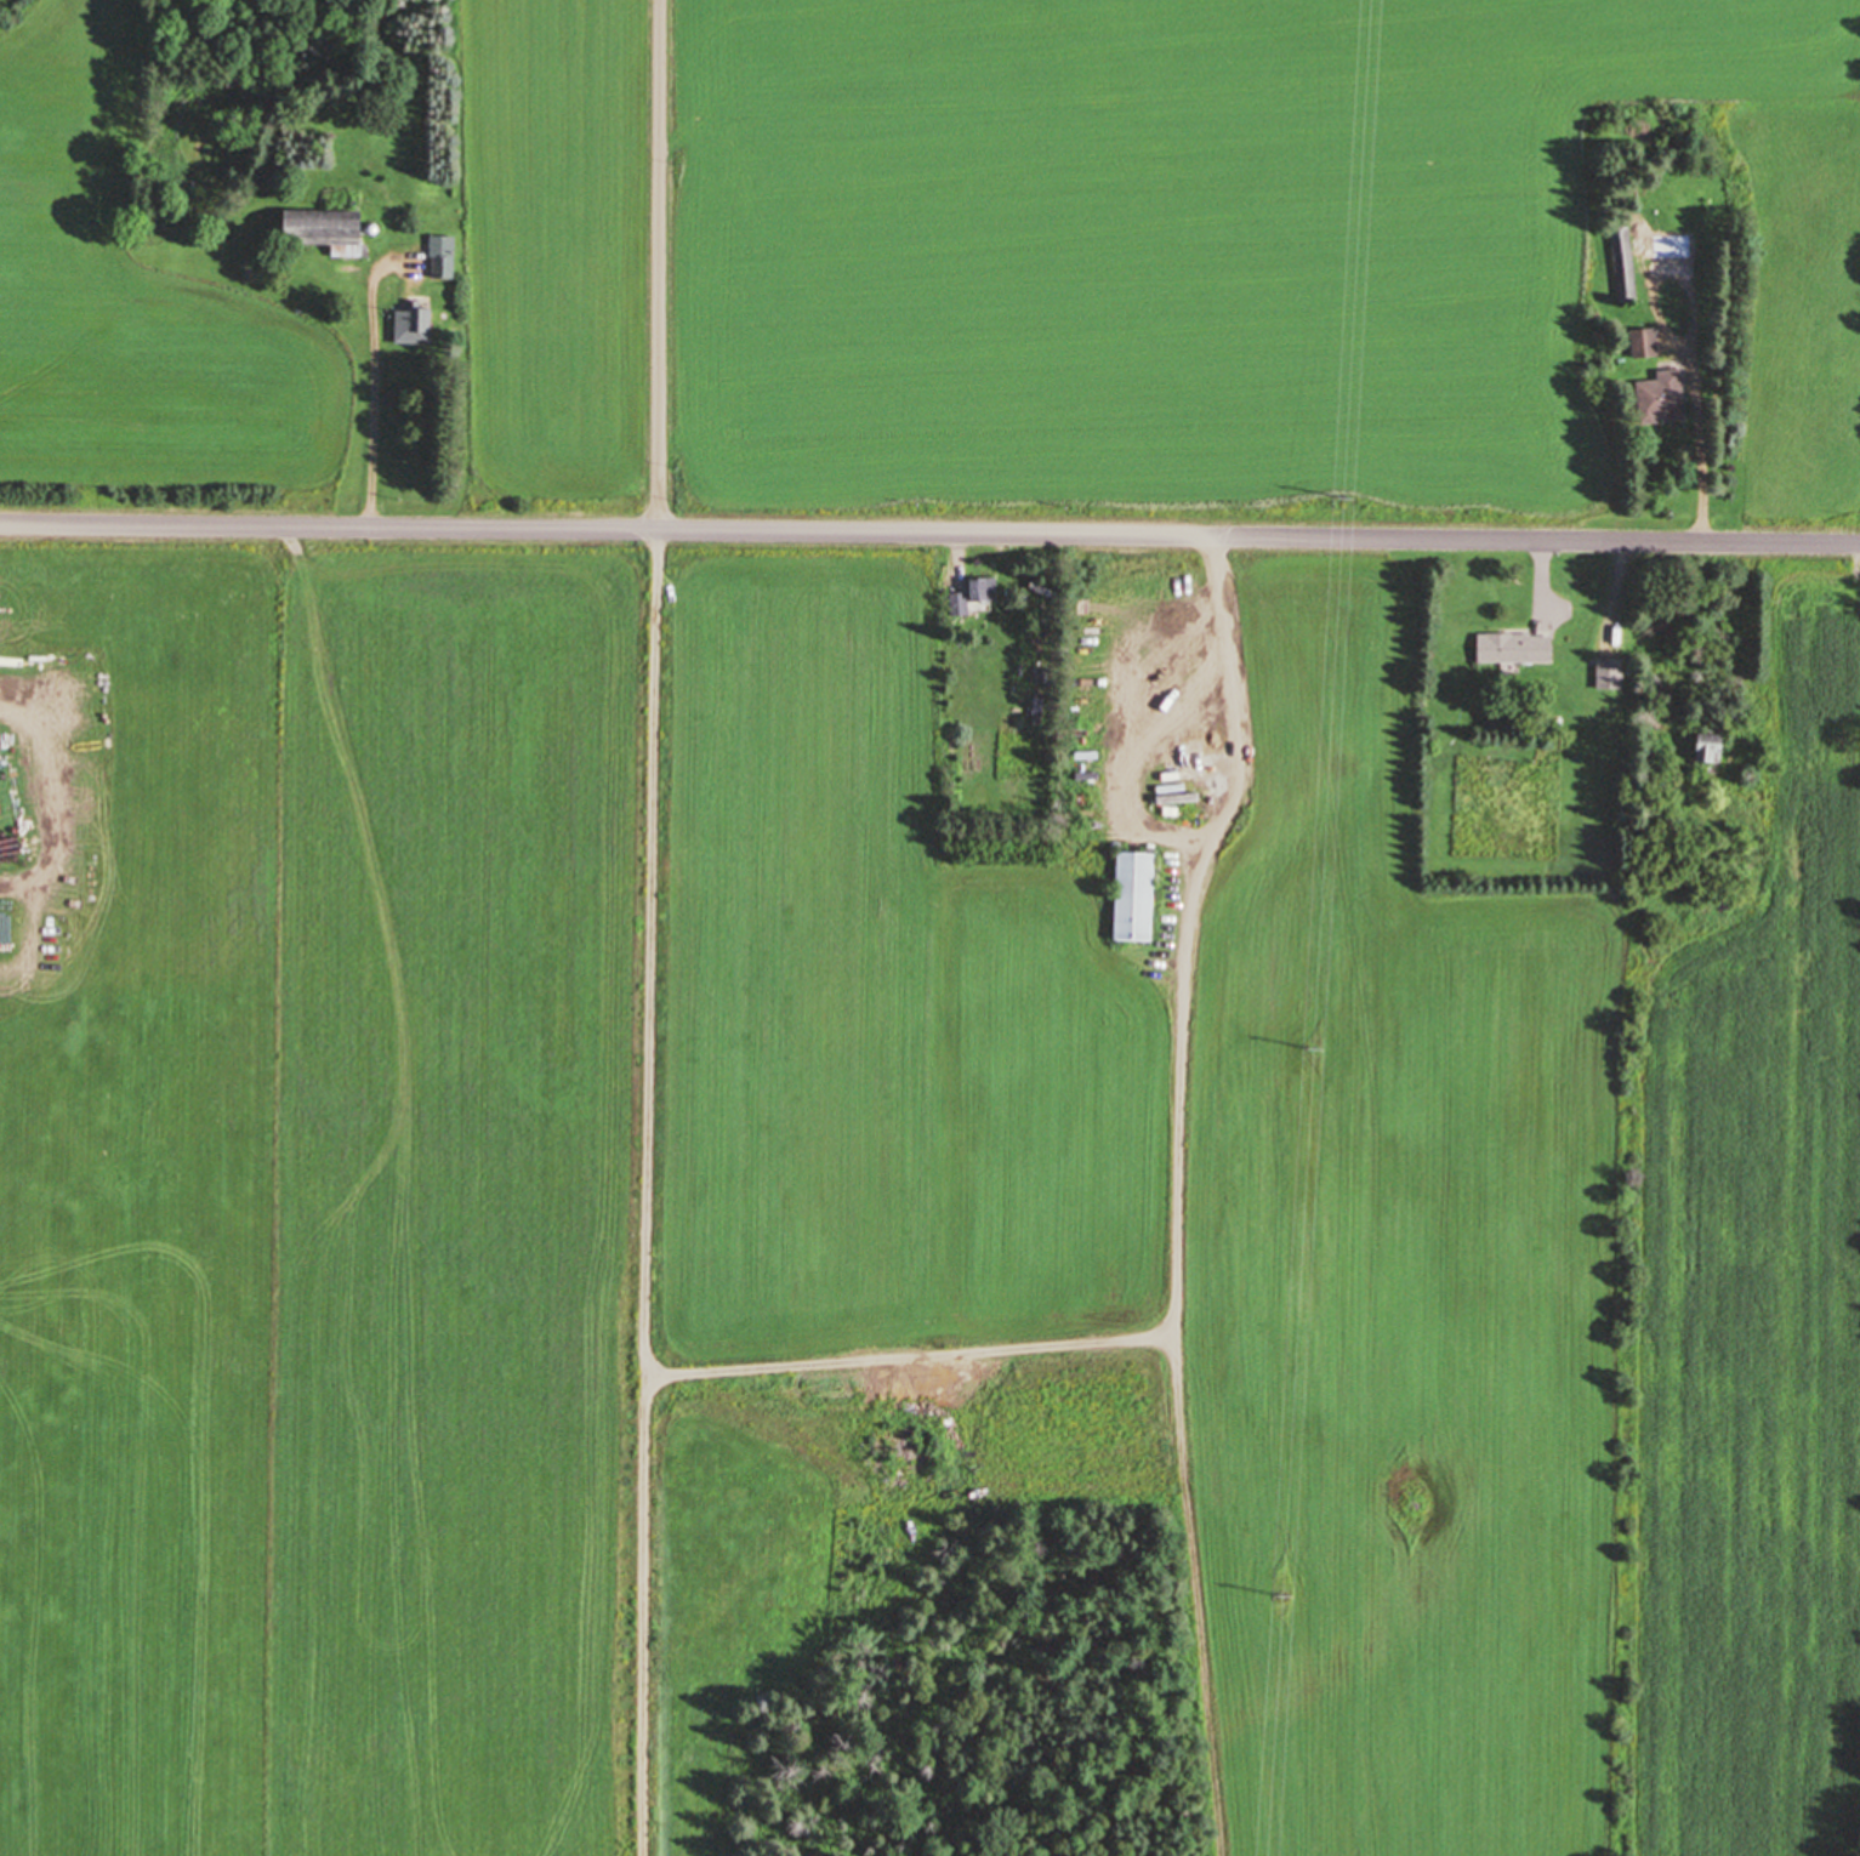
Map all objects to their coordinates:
building: (331, 230)
building: (444, 258)
road: (659, 264)
building: (1626, 267)
road: (1691, 313)
building: (415, 328)
road: (1661, 335)
building: (1646, 345)
road: (372, 389)
building: (1663, 399)
road: (1702, 461)
power tower: (1342, 496)
road: (929, 533)
road: (957, 552)
road: (1541, 575)
road: (1620, 577)
building: (985, 591)
road: (1750, 607)
building: (1518, 648)
building: (1612, 674)
road: (1241, 730)
building: (1713, 750)
building: (1139, 896)
power tower: (1313, 1052)
road: (647, 1220)
road: (1174, 1340)
power tower: (1289, 1595)
road: (643, 1618)

